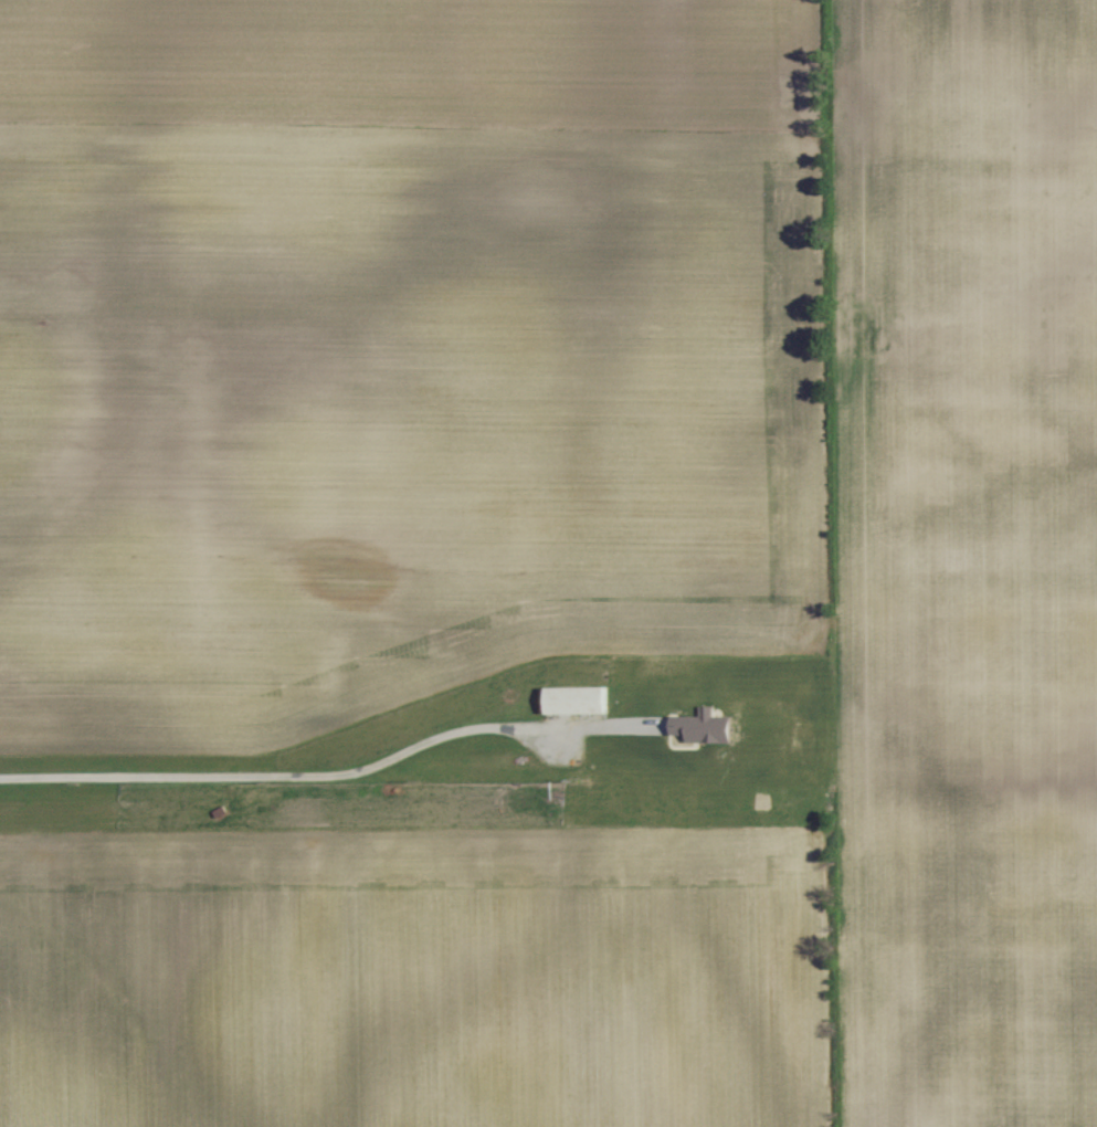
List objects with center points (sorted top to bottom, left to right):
building: (580, 699)
building: (707, 726)
road: (272, 775)

